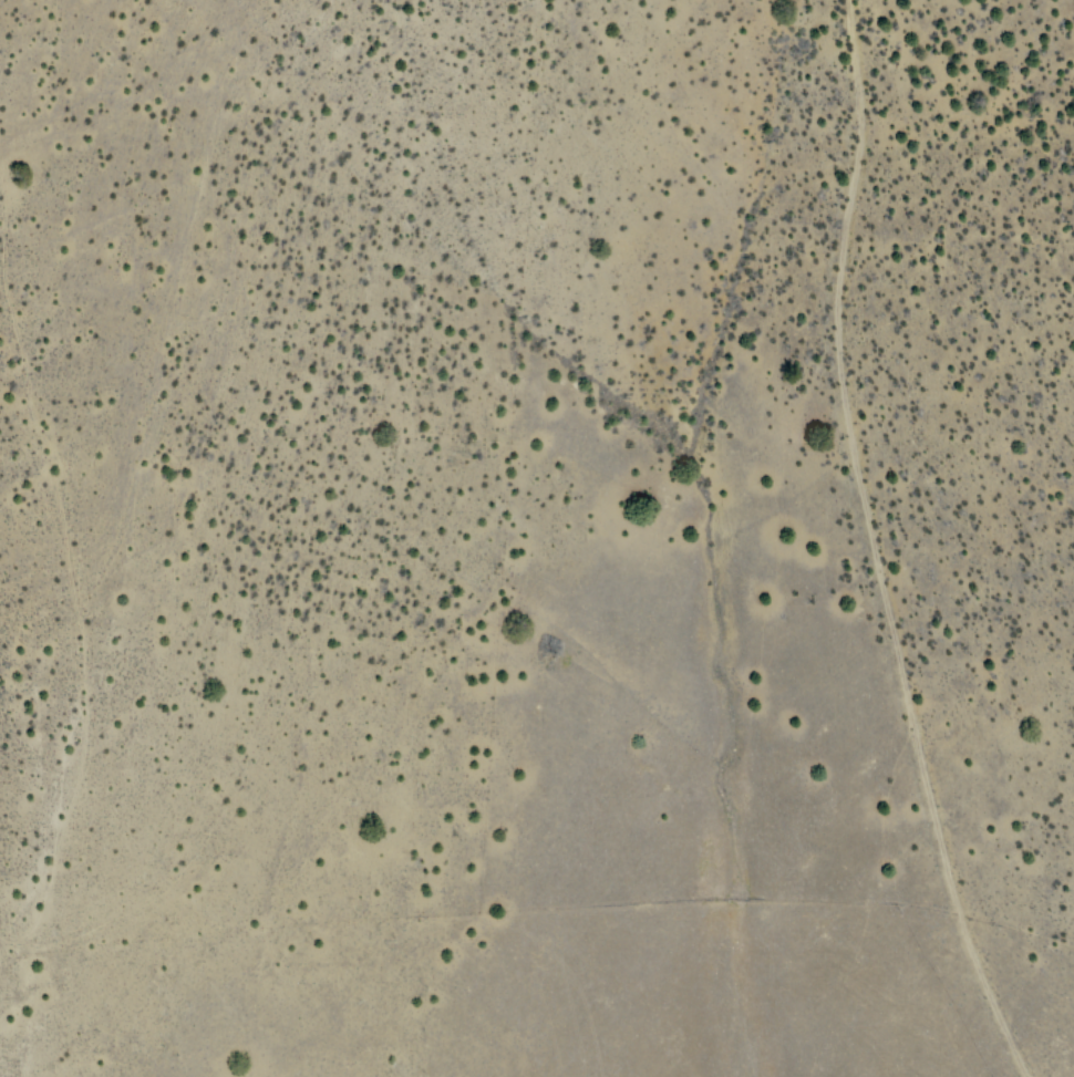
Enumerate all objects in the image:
road: (863, 547)

